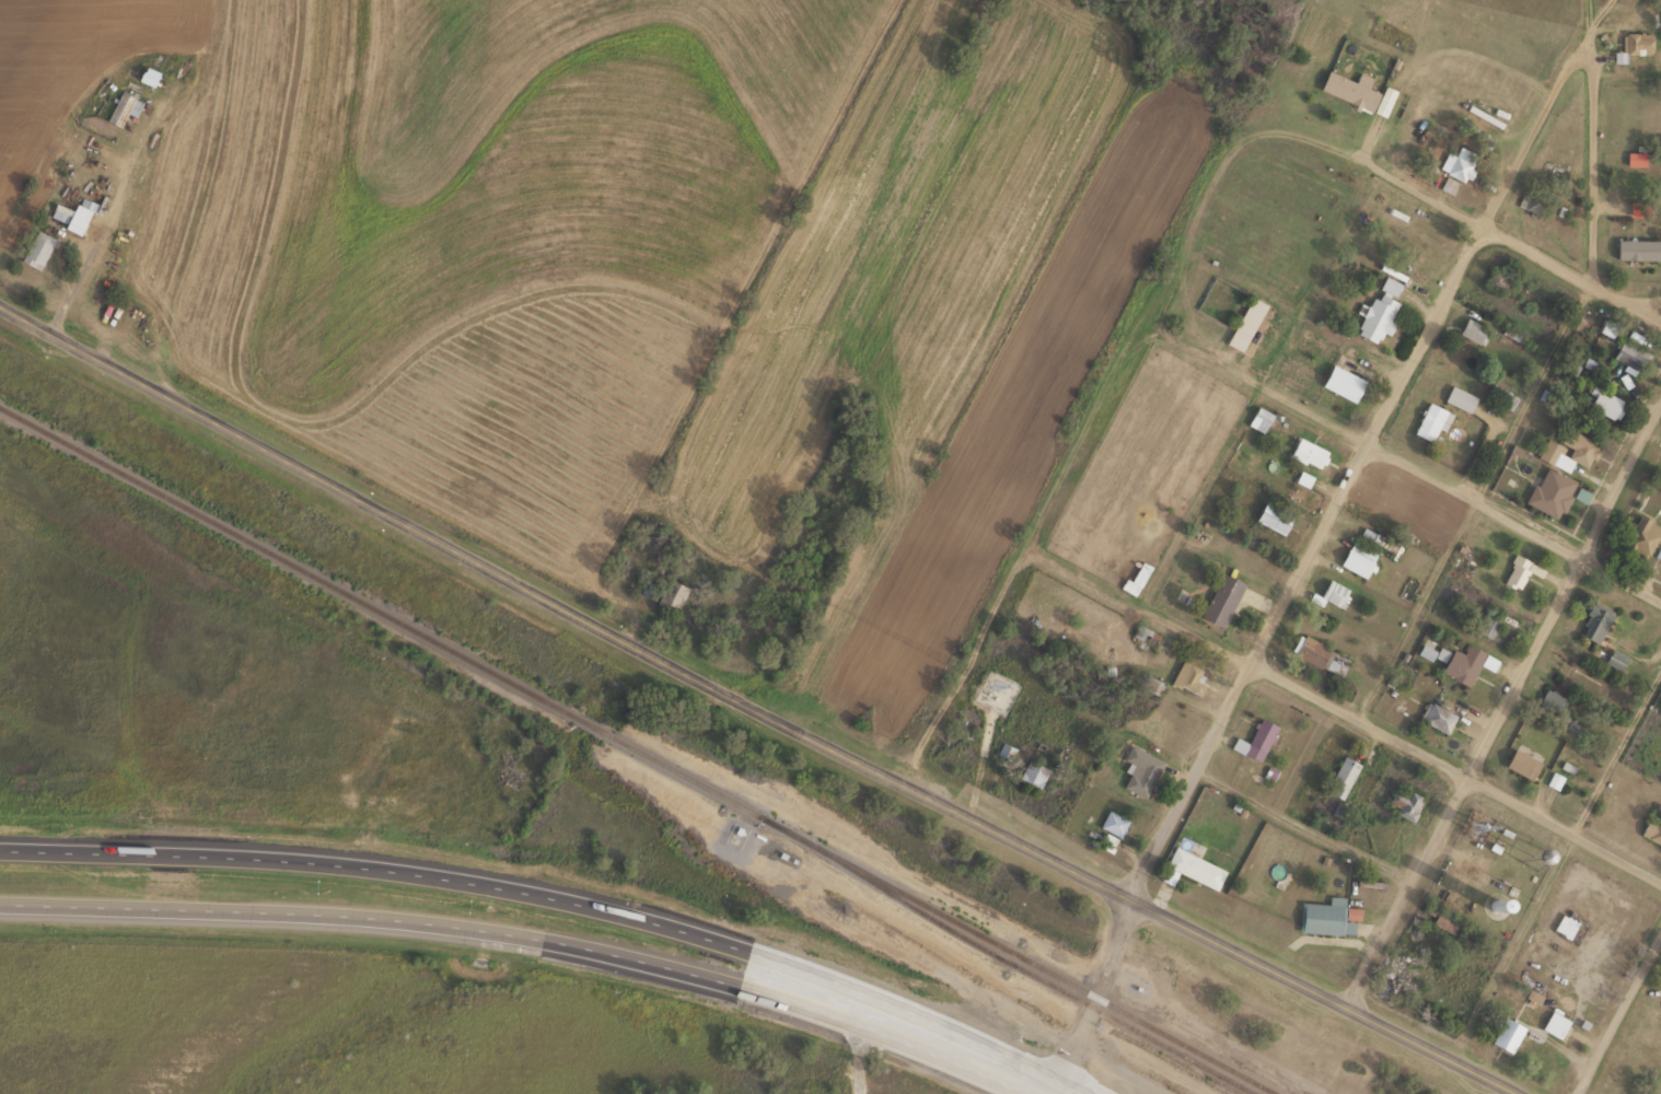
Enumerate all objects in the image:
road: (1591, 24)
building: (1631, 46)
building: (165, 62)
building: (1358, 92)
building: (123, 108)
building: (1634, 158)
building: (1457, 164)
road: (1595, 165)
building: (60, 212)
road: (1465, 213)
building: (1643, 244)
building: (36, 248)
building: (1500, 279)
building: (1379, 310)
road: (1653, 311)
building: (1251, 325)
building: (1474, 335)
building: (1630, 354)
building: (1341, 382)
road: (1263, 387)
building: (1501, 394)
building: (1460, 397)
building: (1606, 403)
building: (1261, 418)
building: (1429, 421)
building: (1567, 447)
road: (1078, 449)
building: (1308, 452)
road: (1352, 472)
building: (1550, 491)
building: (1271, 517)
road: (1513, 524)
building: (1641, 536)
building: (1358, 558)
building: (1517, 571)
building: (1335, 593)
building: (669, 597)
building: (1221, 600)
road: (1140, 612)
building: (1594, 621)
building: (1489, 622)
building: (1320, 654)
building: (1615, 659)
building: (1465, 663)
building: (1189, 676)
building: (1553, 700)
road: (755, 702)
road: (1503, 709)
building: (1436, 717)
building: (1255, 740)
building: (1004, 750)
railway: (641, 752)
building: (1521, 763)
building: (1141, 769)
building: (1033, 773)
building: (1341, 776)
road: (1457, 776)
building: (164, 801)
building: (1404, 802)
building: (1111, 821)
building: (1651, 828)
road: (382, 862)
building: (1193, 862)
road: (376, 911)
building: (1326, 916)
building: (1564, 924)
railway: (1035, 976)
road: (1095, 996)
road: (1622, 1020)
road: (913, 1022)
building: (1554, 1023)
building: (1507, 1034)
road: (858, 1047)

